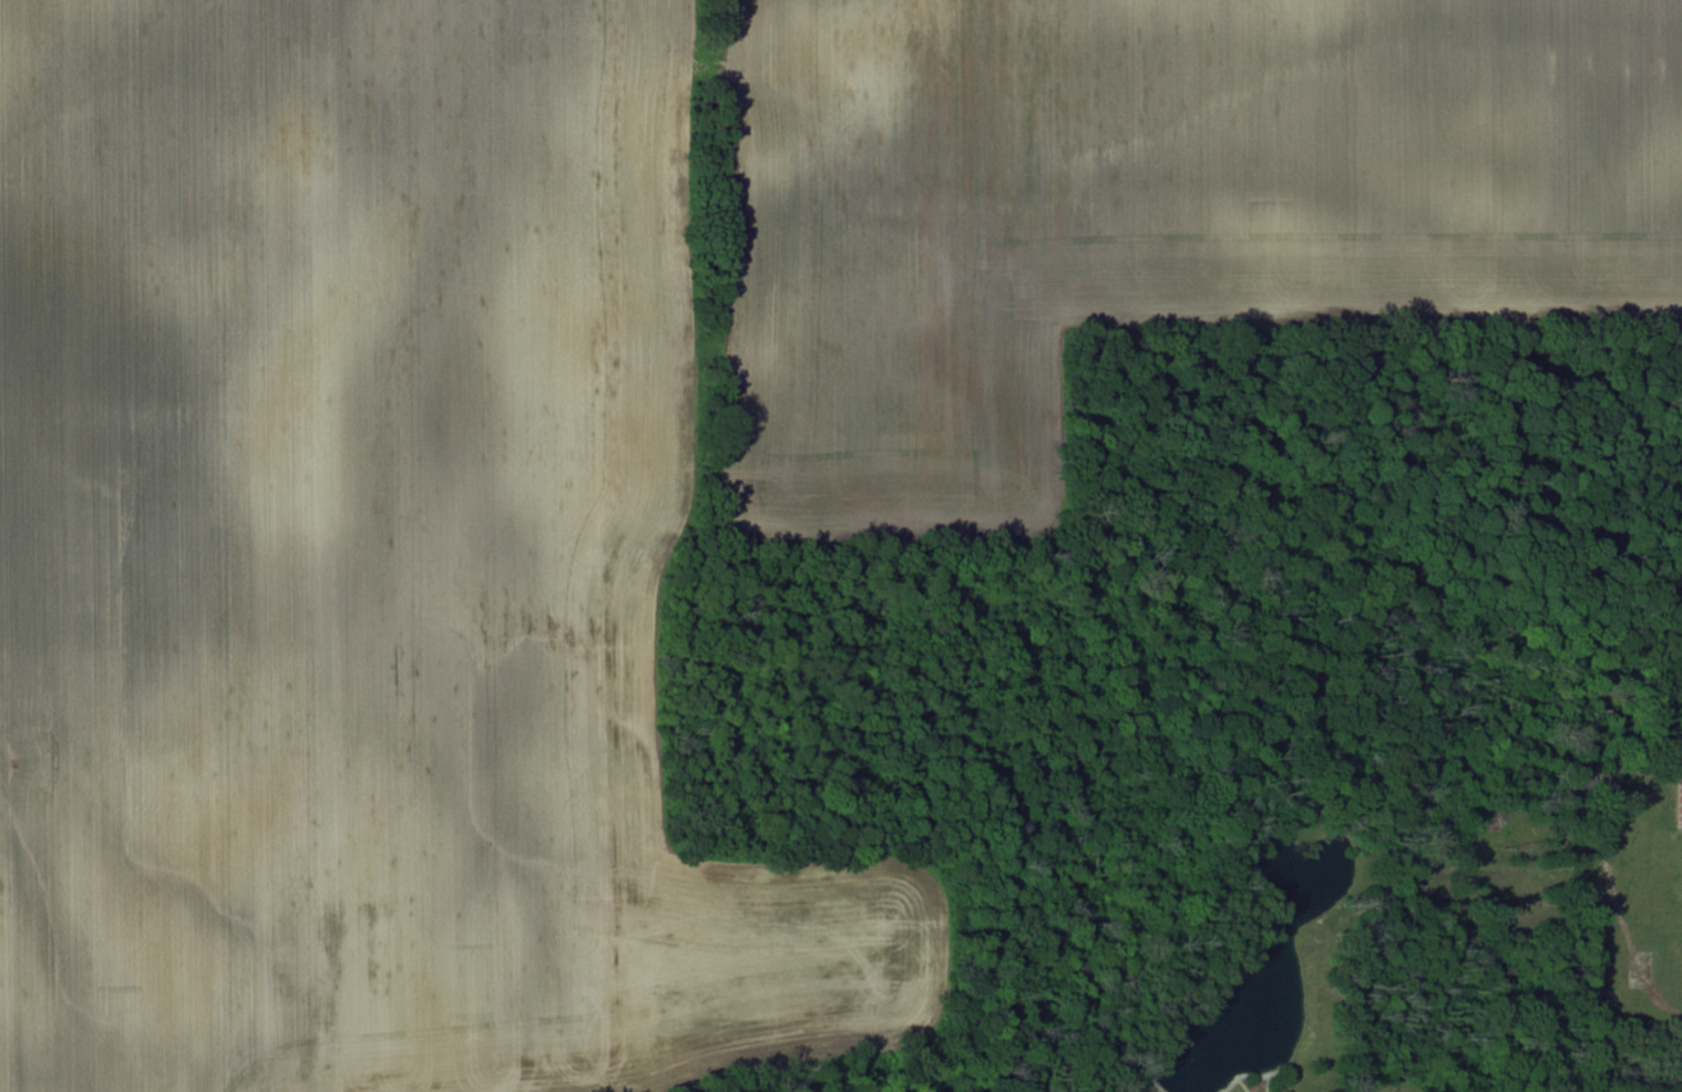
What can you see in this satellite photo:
building: (1680, 802)

